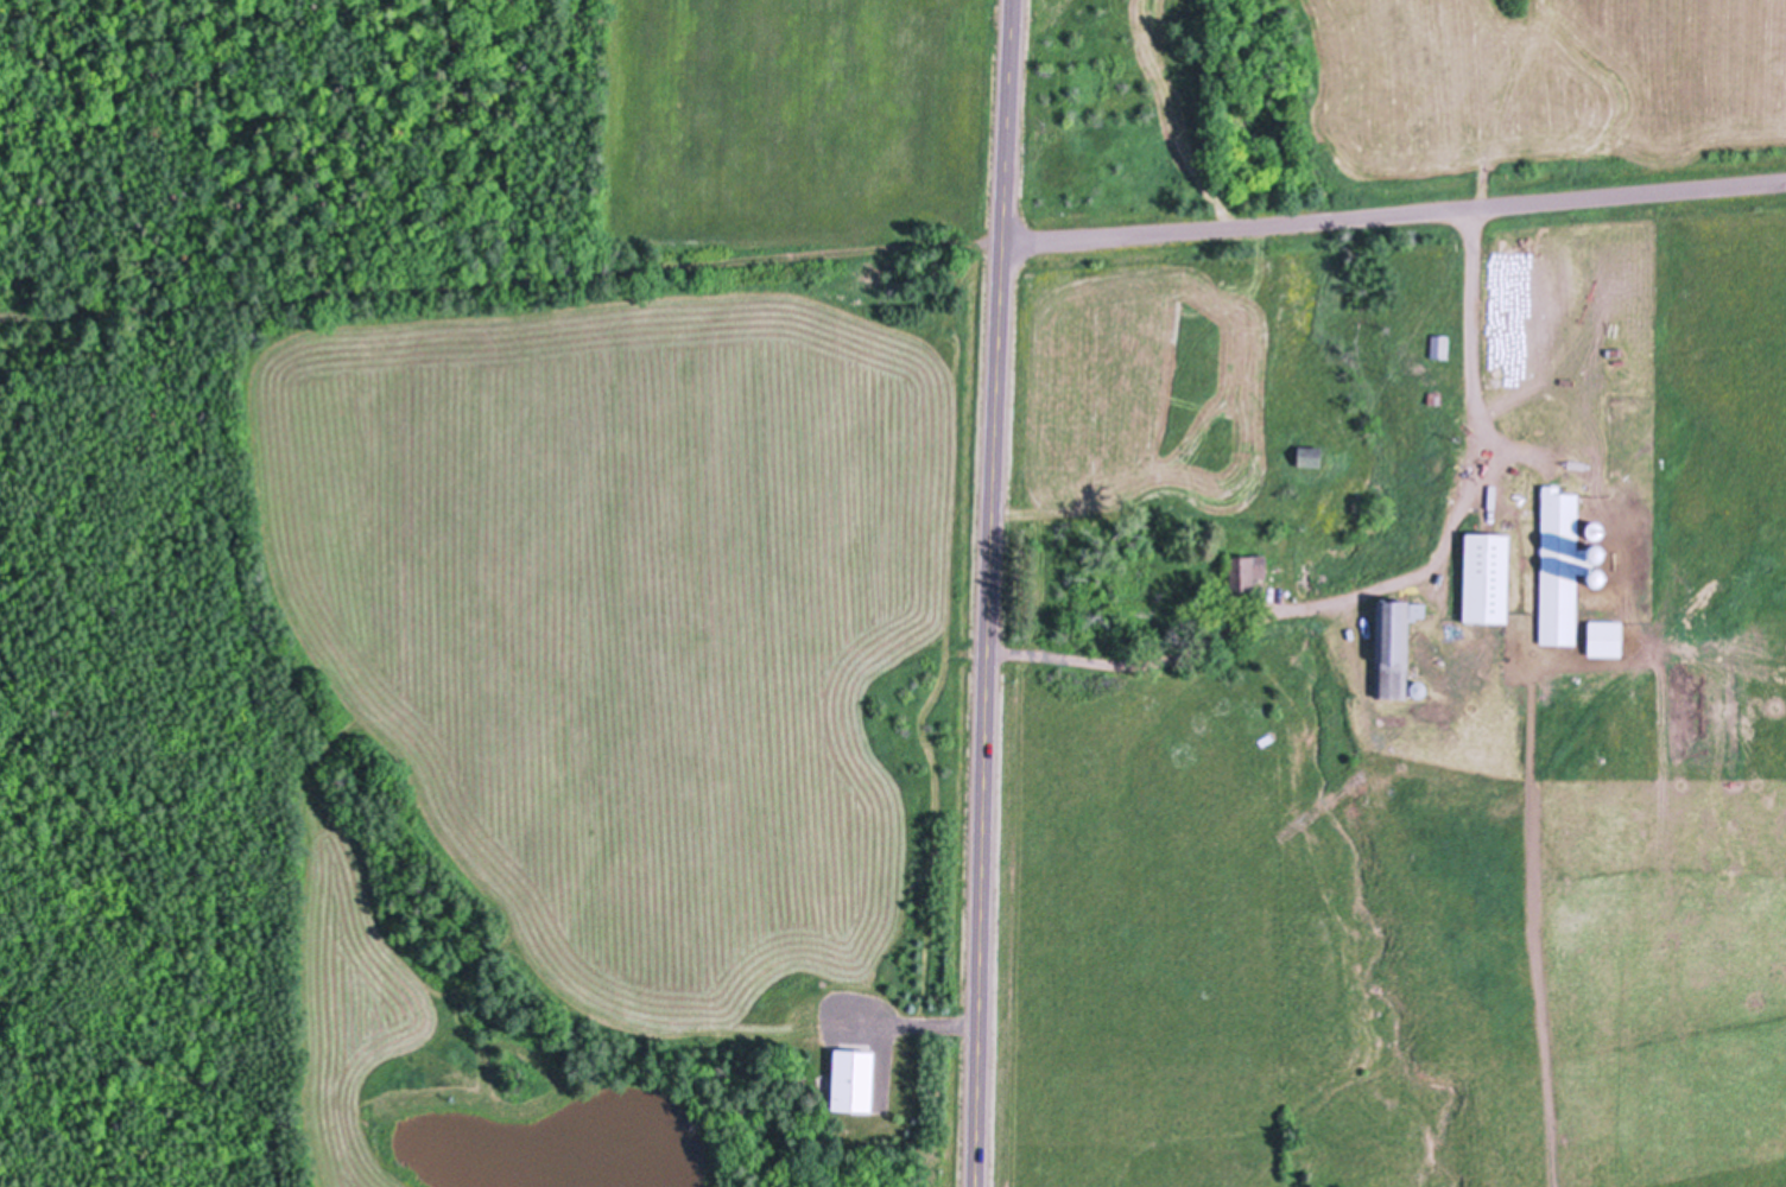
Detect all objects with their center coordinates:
road: (1394, 215)
road: (502, 284)
building: (1439, 344)
building: (1434, 398)
building: (1307, 456)
building: (1595, 529)
building: (1560, 565)
building: (1242, 571)
building: (1486, 576)
building: (1596, 577)
road: (1391, 583)
road: (993, 592)
building: (1415, 610)
building: (1604, 639)
building: (1391, 648)
building: (1417, 688)
building: (850, 1078)

